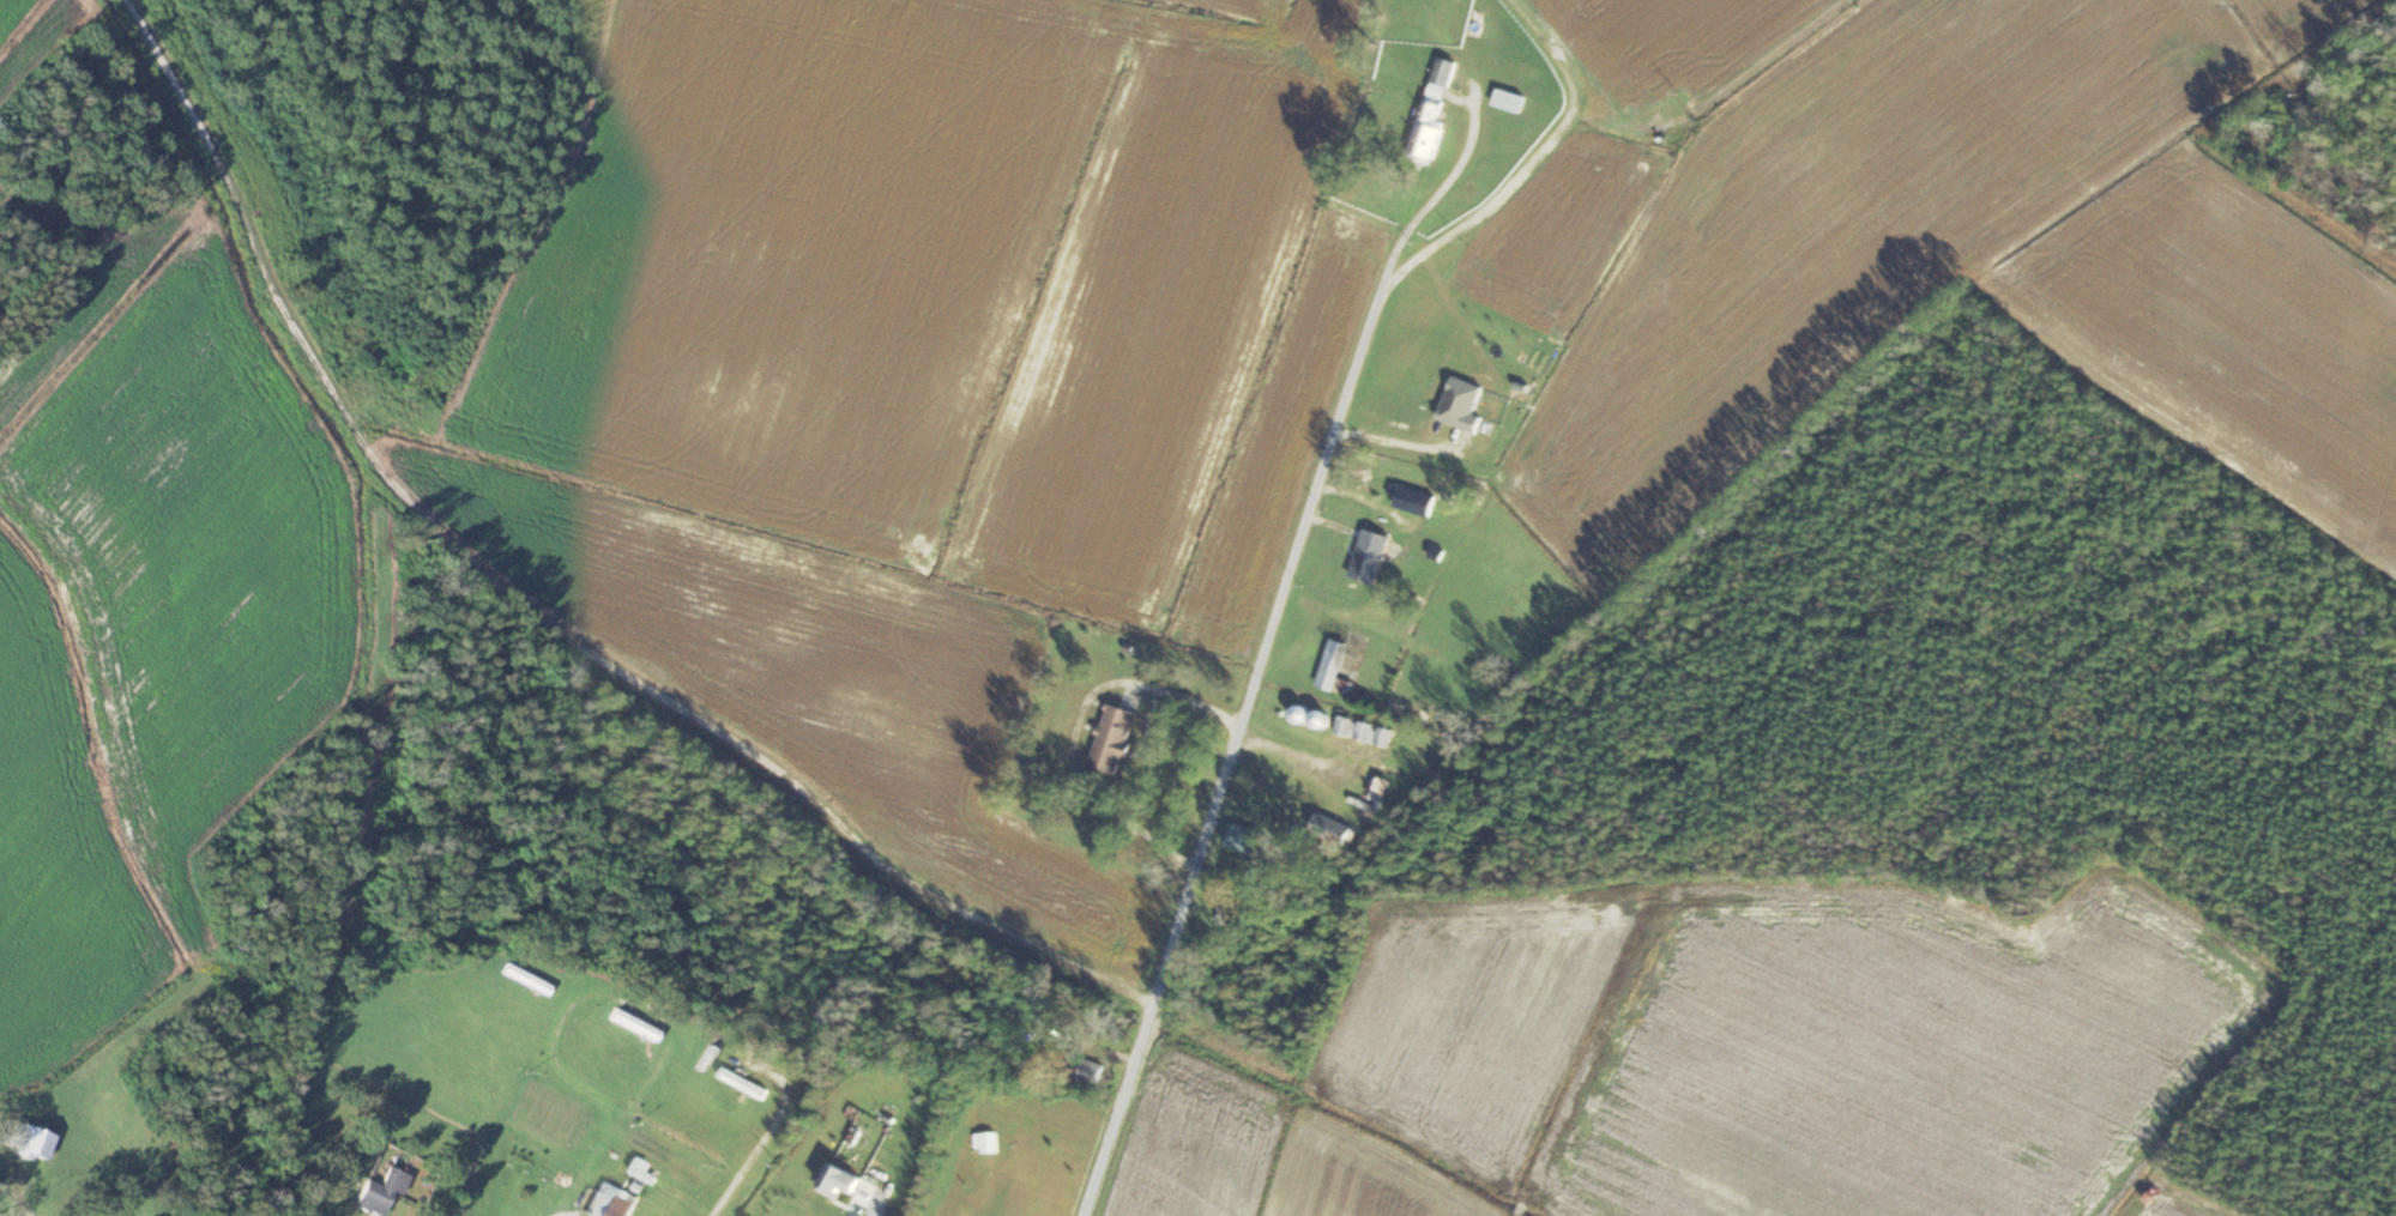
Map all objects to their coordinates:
building: (1510, 99)
building: (1436, 109)
building: (1438, 376)
building: (1414, 501)
building: (1371, 556)
road: (1272, 637)
building: (1336, 658)
building: (1304, 713)
building: (1322, 719)
road: (1078, 727)
building: (1115, 738)
building: (1364, 739)
road: (1290, 751)
building: (1334, 828)
building: (1243, 837)
building: (1235, 913)
building: (29, 1139)
building: (841, 1182)
building: (382, 1192)
building: (608, 1209)
road: (869, 1209)

